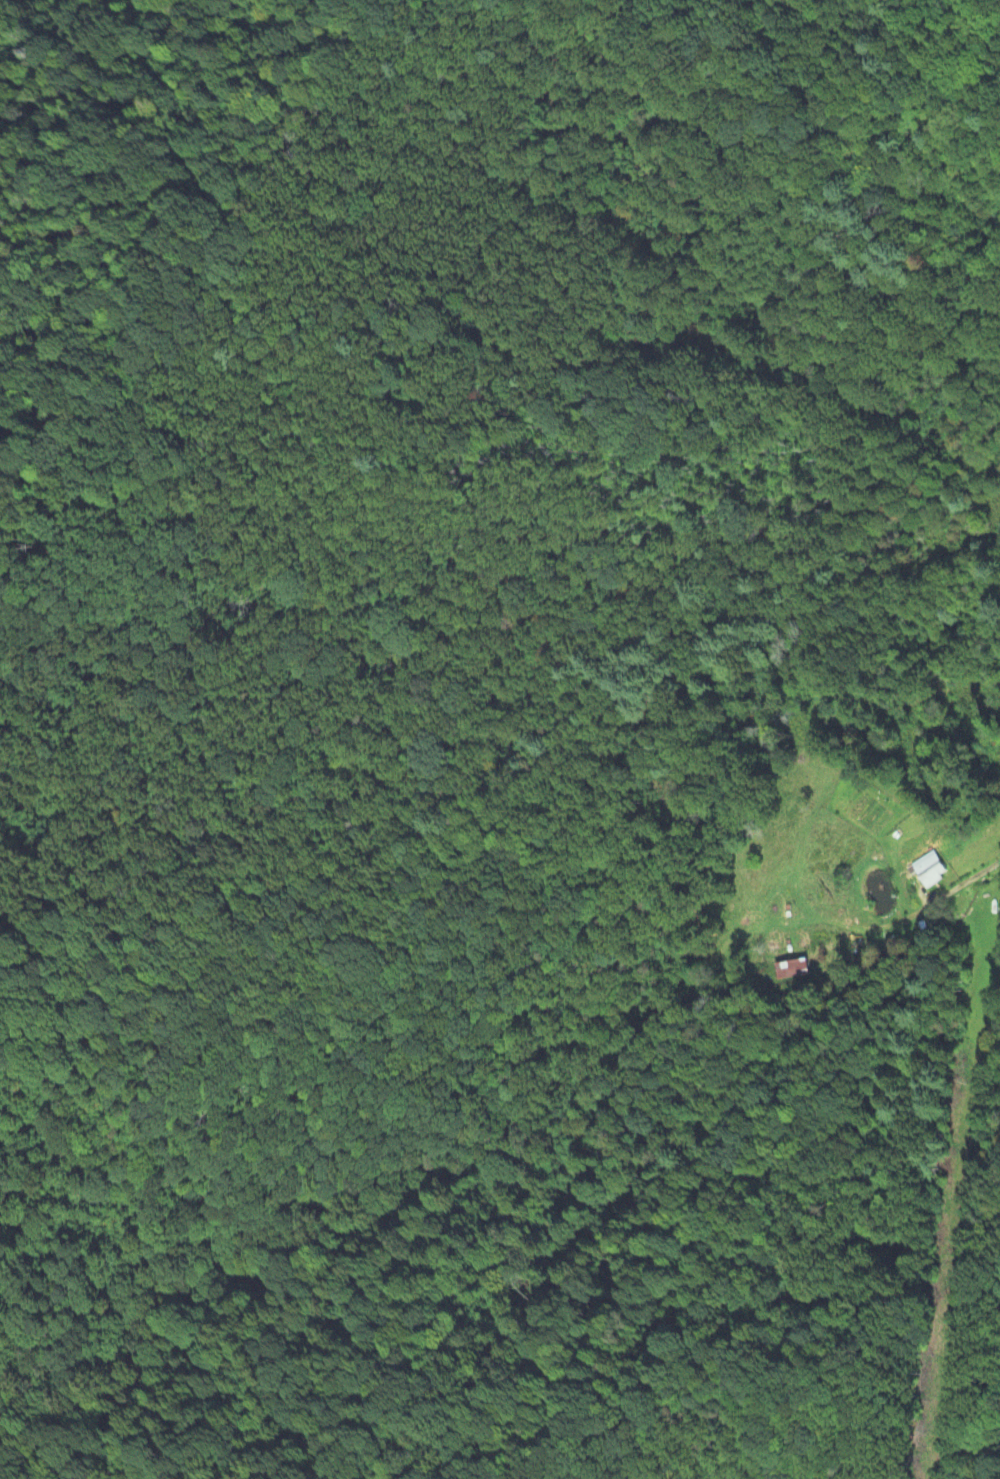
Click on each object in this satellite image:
building: (933, 870)
road: (957, 887)
building: (798, 970)

